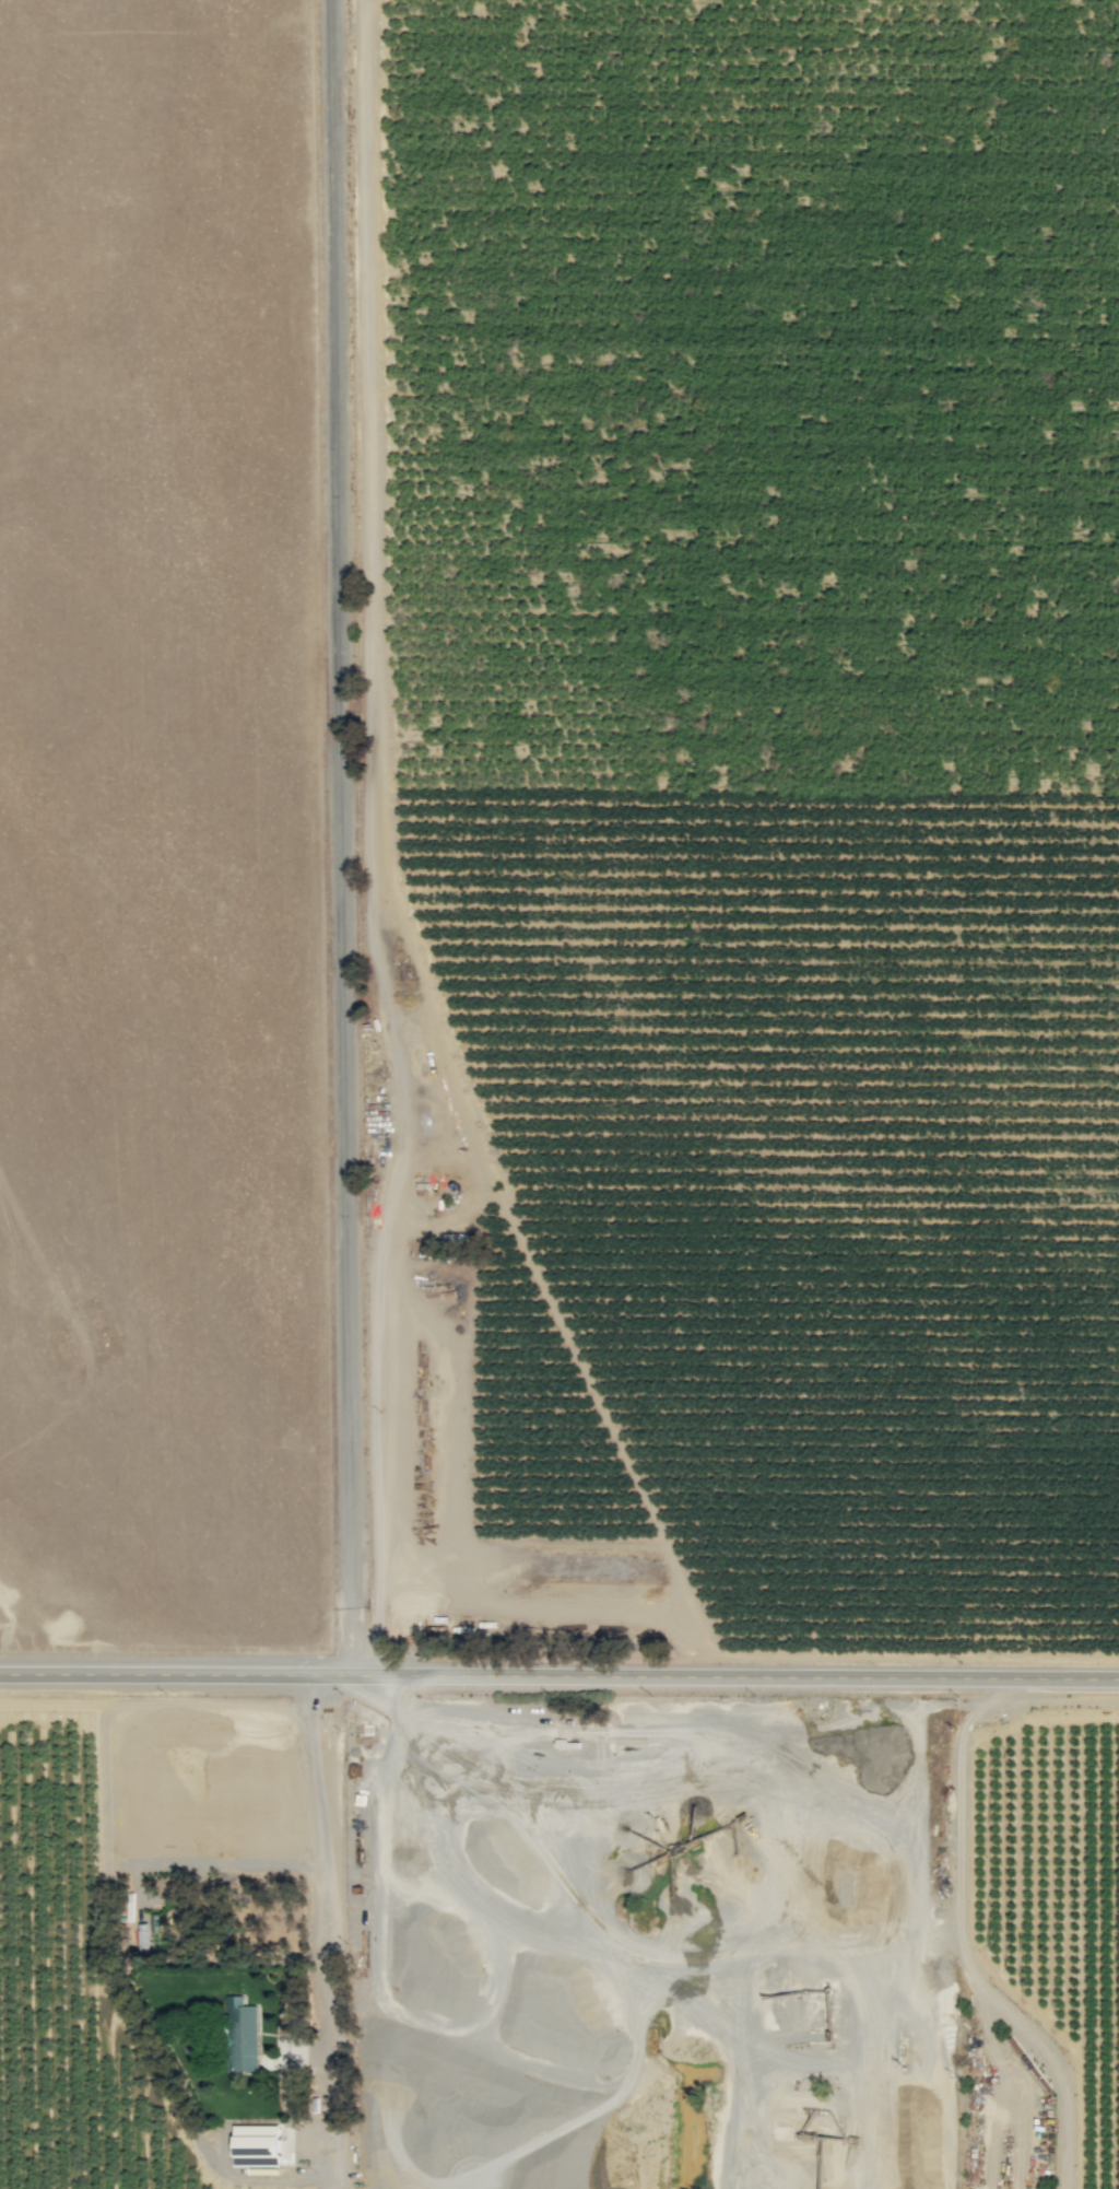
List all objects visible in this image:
road: (342, 838)
road: (558, 1677)
road: (330, 1932)
quarry: (651, 1939)
building: (259, 2146)

